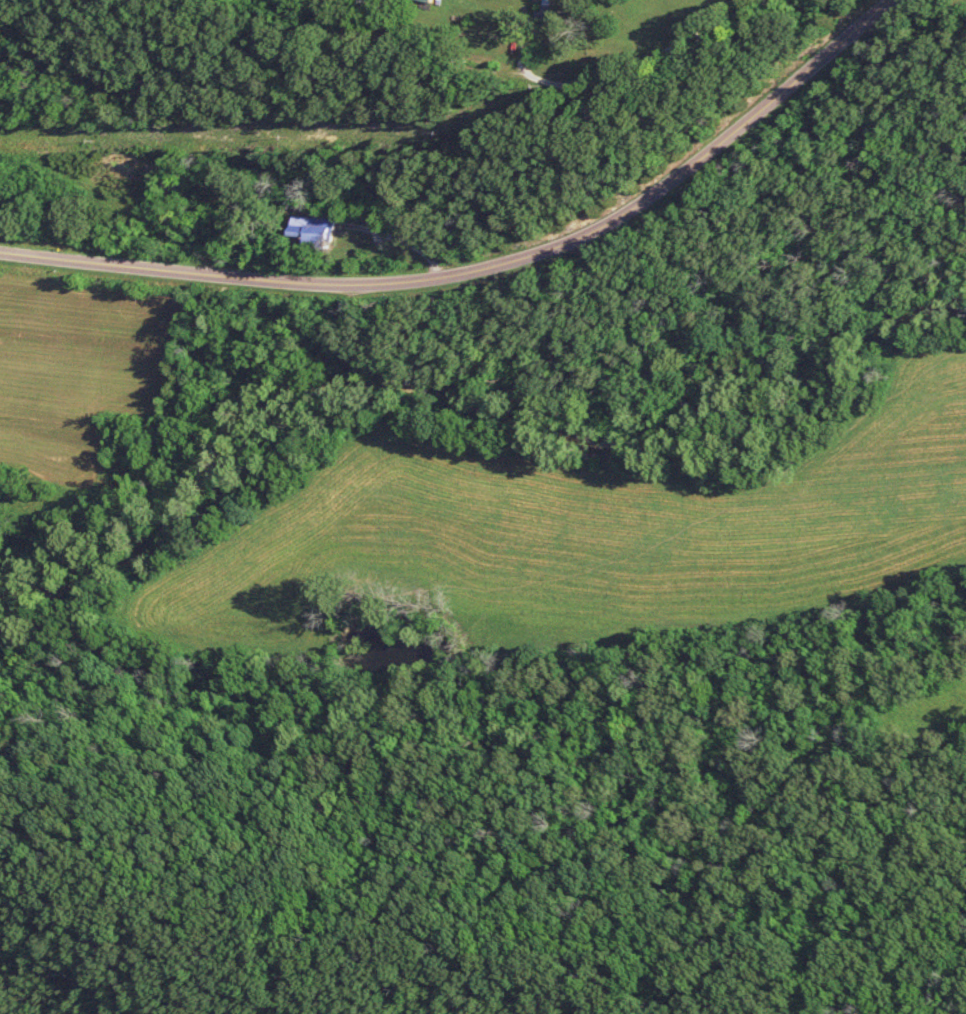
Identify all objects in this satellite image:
building: (427, 1)
building: (314, 231)
road: (485, 271)

